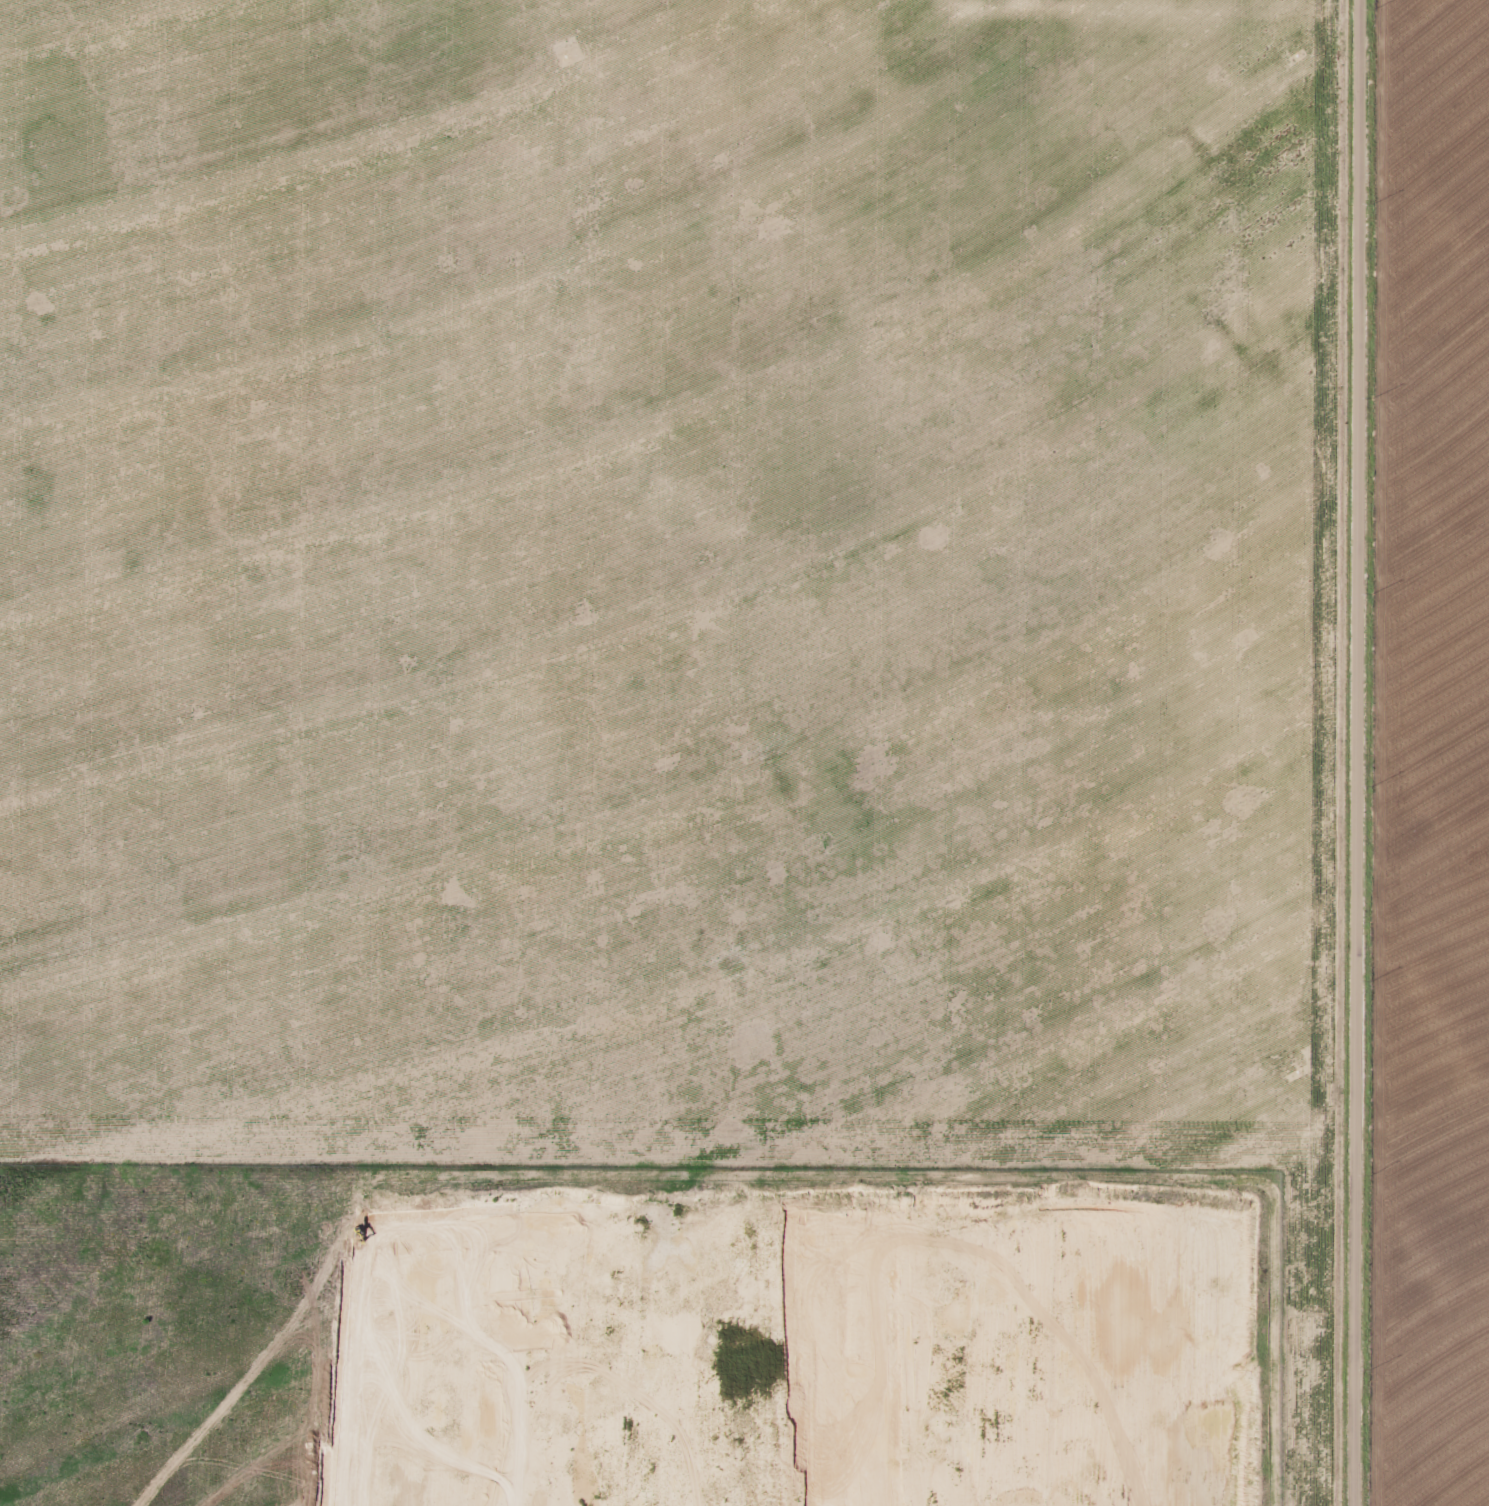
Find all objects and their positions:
road: (1355, 753)

